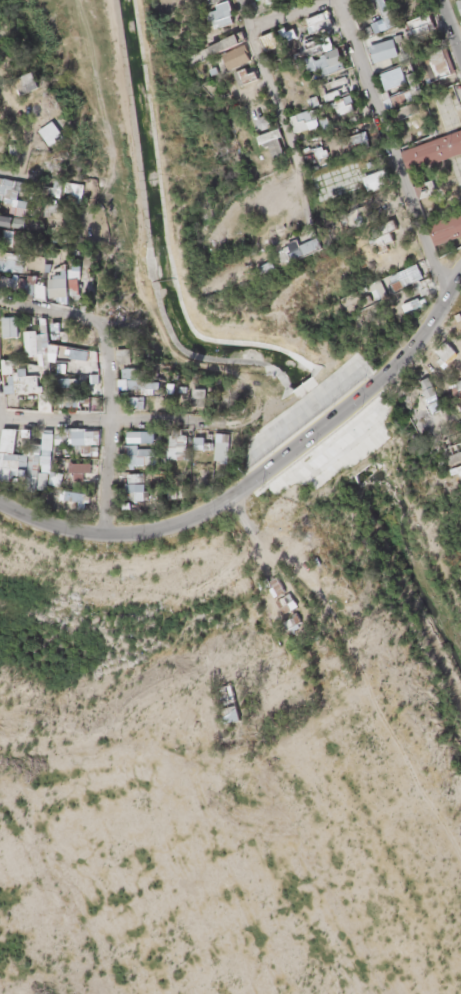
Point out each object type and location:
road: (243, 13)
road: (289, 13)
road: (450, 27)
road: (282, 121)
road: (392, 147)
road: (12, 180)
road: (43, 310)
building: (25, 378)
road: (115, 421)
road: (106, 428)
road: (260, 474)

